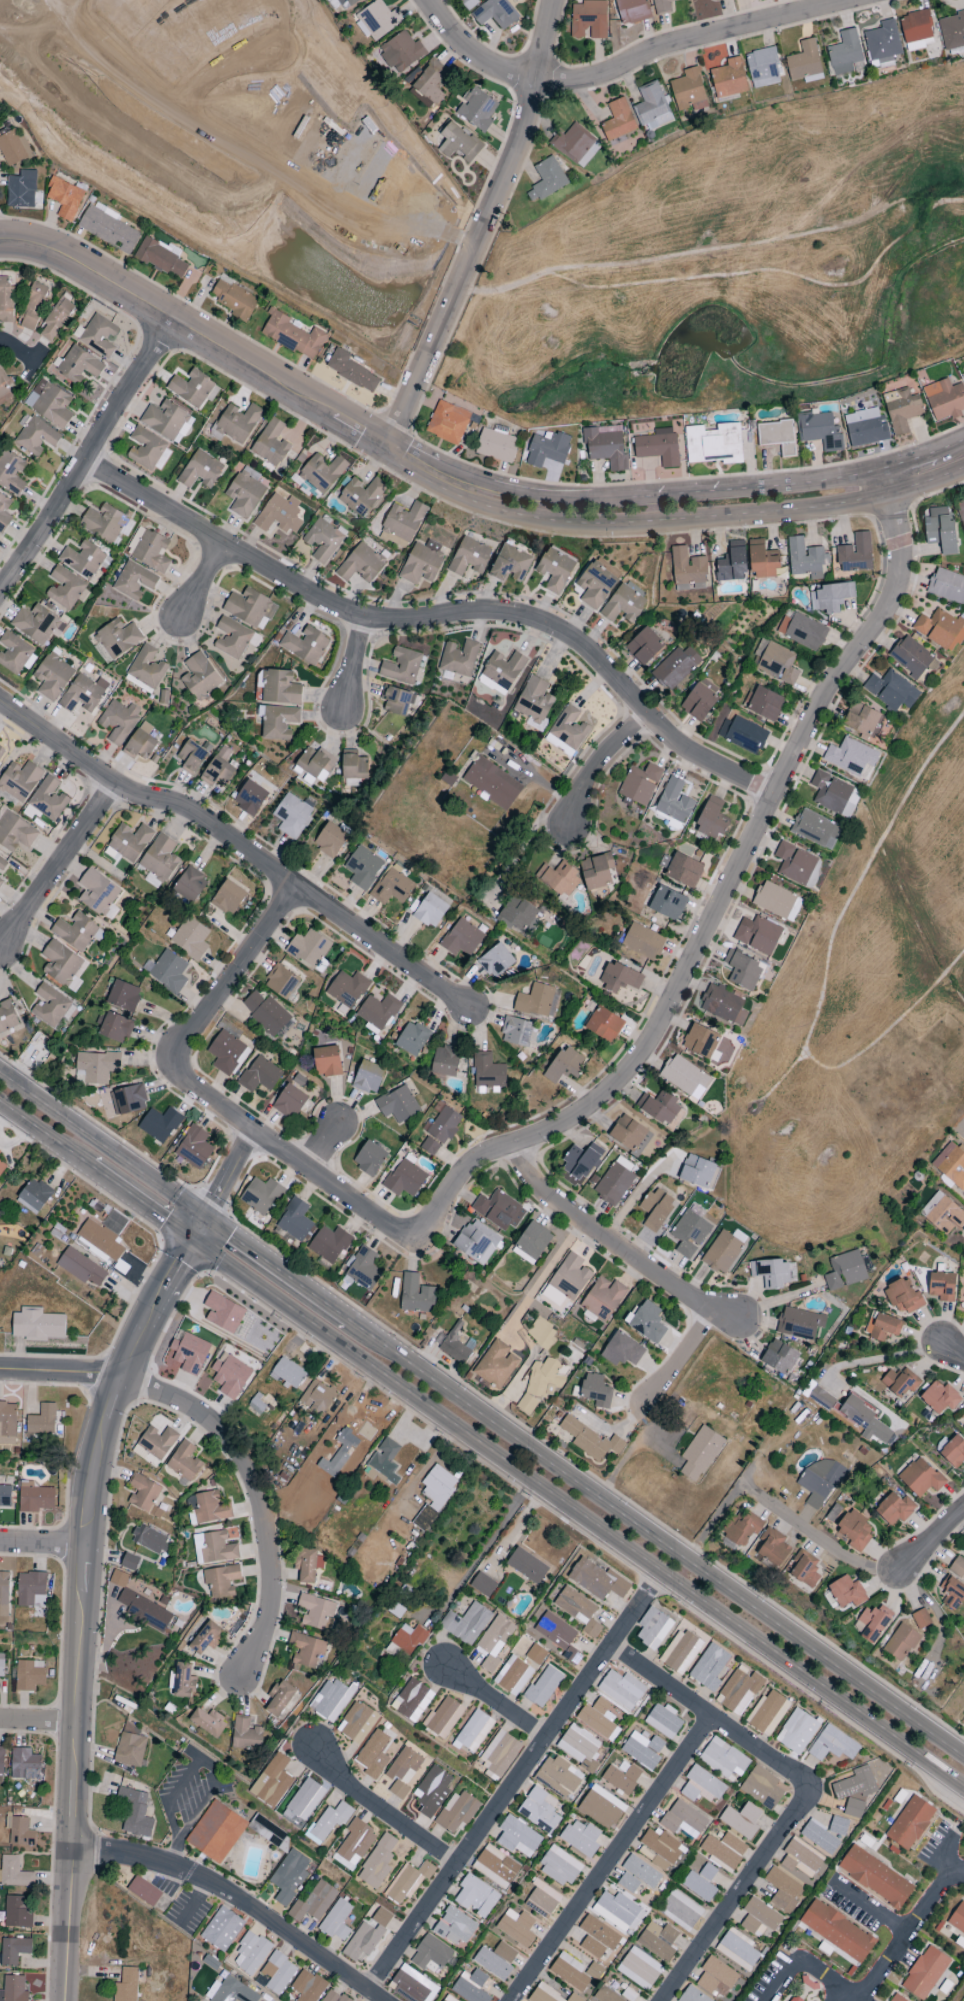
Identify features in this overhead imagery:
building: (716, 0)
road: (69, 2)
building: (345, 3)
building: (468, 3)
building: (662, 6)
building: (631, 11)
building: (495, 13)
building: (589, 19)
building: (377, 21)
building: (916, 30)
building: (951, 30)
building: (882, 42)
building: (401, 52)
building: (844, 52)
road: (631, 63)
building: (804, 63)
road: (223, 65)
building: (762, 68)
building: (729, 78)
building: (428, 81)
building: (689, 91)
building: (652, 107)
building: (476, 109)
building: (618, 120)
building: (459, 144)
building: (575, 145)
building: (13, 148)
road: (248, 152)
building: (546, 180)
building: (21, 190)
building: (64, 198)
road: (480, 226)
building: (107, 228)
road: (716, 248)
building: (160, 257)
building: (234, 298)
building: (6, 301)
building: (33, 306)
building: (56, 319)
road: (196, 332)
building: (97, 335)
building: (292, 335)
road: (20, 352)
building: (79, 364)
building: (351, 371)
building: (962, 375)
building: (3, 388)
building: (191, 388)
building: (944, 399)
building: (49, 403)
building: (901, 410)
building: (165, 419)
building: (238, 422)
building: (448, 422)
building: (865, 428)
building: (820, 431)
building: (34, 435)
building: (777, 437)
building: (271, 443)
building: (714, 444)
building: (496, 445)
building: (606, 446)
building: (658, 447)
road: (949, 447)
building: (145, 448)
building: (547, 449)
road: (86, 452)
road: (409, 460)
road: (908, 462)
building: (200, 470)
building: (11, 472)
building: (322, 472)
road: (884, 483)
road: (800, 484)
road: (926, 484)
building: (245, 493)
road: (538, 495)
road: (681, 495)
building: (361, 496)
building: (960, 511)
building: (4, 513)
building: (279, 514)
building: (102, 522)
road: (655, 522)
building: (401, 524)
building: (941, 530)
building: (323, 539)
building: (855, 554)
building: (469, 557)
building: (803, 557)
building: (82, 559)
building: (511, 562)
building: (763, 562)
building: (360, 563)
building: (422, 563)
building: (731, 566)
building: (555, 570)
building: (688, 570)
road: (204, 580)
building: (133, 581)
building: (595, 584)
building: (947, 586)
building: (65, 588)
building: (831, 597)
building: (623, 605)
building: (250, 608)
road: (440, 616)
building: (38, 624)
building: (940, 630)
building: (805, 632)
building: (118, 637)
building: (232, 638)
building: (305, 645)
building: (644, 647)
building: (13, 653)
building: (910, 656)
building: (459, 658)
building: (776, 662)
road: (355, 663)
building: (400, 666)
building: (147, 667)
building: (676, 667)
building: (502, 672)
building: (52, 676)
building: (199, 676)
building: (280, 687)
building: (891, 691)
building: (83, 693)
building: (396, 700)
building: (534, 701)
building: (698, 702)
building: (764, 704)
building: (861, 719)
building: (118, 721)
building: (278, 722)
building: (567, 732)
building: (743, 734)
building: (140, 743)
building: (850, 756)
building: (191, 757)
building: (316, 762)
road: (603, 763)
building: (354, 766)
building: (217, 773)
building: (19, 780)
building: (492, 783)
building: (640, 784)
building: (830, 792)
building: (250, 797)
building: (48, 799)
building: (674, 802)
building: (291, 815)
building: (712, 819)
building: (815, 829)
building: (15, 831)
building: (330, 840)
building: (130, 842)
road: (239, 844)
road: (520, 845)
road: (751, 846)
building: (160, 858)
road: (58, 861)
building: (2, 862)
building: (794, 864)
building: (363, 867)
building: (683, 870)
building: (596, 871)
building: (558, 879)
building: (1, 881)
building: (190, 884)
building: (392, 887)
building: (98, 894)
building: (228, 898)
building: (776, 901)
building: (667, 903)
building: (430, 910)
building: (519, 917)
building: (75, 931)
building: (758, 934)
building: (190, 938)
building: (462, 939)
building: (641, 943)
building: (309, 949)
building: (496, 961)
building: (61, 963)
road: (244, 966)
building: (742, 970)
building: (168, 972)
building: (618, 977)
road: (903, 977)
building: (281, 981)
building: (347, 989)
building: (123, 996)
building: (535, 1000)
building: (50, 1005)
building: (723, 1005)
building: (378, 1012)
building: (266, 1013)
building: (7, 1017)
building: (604, 1024)
building: (116, 1028)
building: (516, 1031)
building: (412, 1039)
building: (701, 1041)
building: (226, 1053)
building: (326, 1061)
building: (445, 1061)
building: (565, 1065)
building: (95, 1067)
building: (487, 1071)
building: (259, 1075)
building: (368, 1077)
building: (685, 1077)
building: (128, 1099)
building: (289, 1102)
building: (397, 1104)
building: (659, 1106)
building: (160, 1124)
building: (444, 1125)
road: (45, 1134)
road: (101, 1145)
building: (193, 1147)
building: (429, 1147)
road: (323, 1148)
building: (0, 1152)
building: (369, 1158)
building: (581, 1162)
building: (951, 1165)
building: (2, 1168)
building: (697, 1171)
road: (226, 1172)
building: (404, 1179)
building: (613, 1184)
road: (341, 1191)
building: (36, 1194)
building: (261, 1195)
road: (140, 1202)
building: (656, 1208)
building: (498, 1210)
building: (942, 1214)
traffic signals: (204, 1218)
building: (294, 1221)
building: (689, 1233)
traffic signals: (191, 1238)
building: (102, 1240)
building: (476, 1242)
building: (532, 1243)
building: (329, 1244)
road: (616, 1244)
building: (722, 1252)
building: (81, 1267)
road: (276, 1269)
building: (363, 1270)
building: (845, 1270)
building: (771, 1273)
road: (543, 1277)
building: (567, 1280)
road: (253, 1284)
building: (942, 1286)
building: (416, 1295)
building: (903, 1297)
building: (603, 1298)
building: (963, 1300)
building: (223, 1313)
building: (647, 1321)
building: (799, 1324)
building: (38, 1325)
building: (882, 1327)
building: (541, 1333)
building: (622, 1350)
road: (952, 1350)
building: (189, 1353)
building: (779, 1357)
road: (685, 1358)
road: (879, 1358)
building: (496, 1365)
building: (288, 1373)
building: (230, 1375)
road: (51, 1376)
building: (545, 1378)
building: (899, 1383)
building: (595, 1390)
building: (818, 1396)
building: (317, 1397)
building: (940, 1397)
building: (526, 1404)
building: (864, 1419)
building: (43, 1422)
building: (7, 1423)
building: (590, 1440)
building: (157, 1442)
building: (953, 1452)
road: (761, 1453)
building: (338, 1454)
building: (699, 1454)
building: (184, 1462)
building: (383, 1462)
building: (920, 1477)
building: (820, 1481)
road: (255, 1487)
building: (144, 1495)
building: (434, 1495)
building: (5, 1496)
building: (36, 1499)
building: (208, 1509)
building: (895, 1509)
road: (709, 1526)
building: (742, 1529)
building: (855, 1530)
road: (812, 1533)
road: (656, 1538)
road: (930, 1538)
building: (150, 1540)
road: (41, 1547)
building: (213, 1548)
building: (773, 1548)
road: (640, 1557)
building: (130, 1562)
building: (307, 1564)
building: (958, 1565)
building: (527, 1566)
building: (803, 1569)
building: (118, 1579)
building: (221, 1580)
building: (598, 1580)
building: (483, 1584)
building: (31, 1590)
building: (847, 1592)
road: (80, 1593)
building: (952, 1593)
building: (4, 1594)
building: (575, 1605)
building: (145, 1611)
building: (316, 1612)
building: (920, 1619)
building: (874, 1622)
building: (466, 1623)
building: (592, 1628)
building: (653, 1628)
building: (558, 1636)
building: (205, 1638)
building: (409, 1639)
building: (494, 1642)
building: (901, 1642)
building: (306, 1649)
building: (680, 1652)
building: (536, 1654)
building: (1, 1665)
building: (709, 1667)
building: (29, 1675)
building: (513, 1675)
building: (183, 1680)
building: (543, 1686)
building: (621, 1689)
building: (739, 1690)
building: (280, 1699)
building: (331, 1699)
building: (412, 1700)
road: (498, 1703)
building: (768, 1713)
building: (443, 1718)
building: (598, 1719)
building: (663, 1721)
building: (208, 1722)
road: (37, 1723)
building: (357, 1723)
building: (797, 1731)
building: (473, 1732)
building: (246, 1735)
building: (833, 1745)
building: (130, 1746)
building: (579, 1746)
building: (499, 1753)
building: (373, 1755)
building: (723, 1758)
building: (1, 1760)
road: (203, 1762)
building: (24, 1765)
building: (403, 1771)
building: (558, 1775)
building: (621, 1777)
building: (272, 1782)
building: (855, 1784)
building: (701, 1786)
building: (761, 1788)
building: (432, 1791)
road: (507, 1793)
road: (803, 1796)
building: (601, 1807)
building: (854, 1808)
road: (383, 1810)
building: (539, 1810)
building: (135, 1812)
building: (457, 1812)
building: (683, 1820)
building: (741, 1820)
building: (329, 1822)
building: (910, 1823)
building: (838, 1826)
building: (21, 1832)
building: (216, 1832)
building: (517, 1837)
building: (819, 1837)
building: (581, 1838)
building: (356, 1842)
building: (659, 1849)
building: (724, 1850)
road: (173, 1853)
building: (801, 1858)
road: (612, 1859)
building: (378, 1862)
road: (950, 1862)
building: (495, 1867)
building: (560, 1867)
building: (641, 1871)
building: (13, 1872)
building: (289, 1876)
building: (875, 1877)
building: (408, 1881)
building: (628, 1883)
building: (700, 1883)
building: (782, 1890)
building: (144, 1891)
building: (476, 1896)
building: (543, 1897)
road: (236, 1898)
building: (313, 1903)
road: (193, 1905)
road: (872, 1909)
building: (680, 1910)
building: (617, 1911)
building: (17, 1913)
building: (759, 1917)
building: (957, 1918)
building: (335, 1921)
building: (454, 1926)
building: (516, 1928)
building: (222, 1929)
building: (837, 1931)
building: (367, 1936)
building: (597, 1937)
building: (658, 1940)
building: (737, 1949)
building: (13, 1950)
building: (505, 1952)
building: (251, 1954)
building: (430, 1955)
building: (492, 1964)
building: (639, 1969)
building: (569, 1972)
building: (278, 1973)
building: (925, 1973)
building: (716, 1977)
road: (870, 1984)
building: (126, 1985)
building: (411, 1985)
building: (308, 1986)
building: (470, 1986)
building: (13, 1989)
building: (229, 1991)
road: (834, 1993)
building: (550, 1995)
building: (606, 1995)
building: (628, 1995)
building: (692, 1995)
building: (448, 1998)
building: (894, 1998)
road: (859, 2000)

